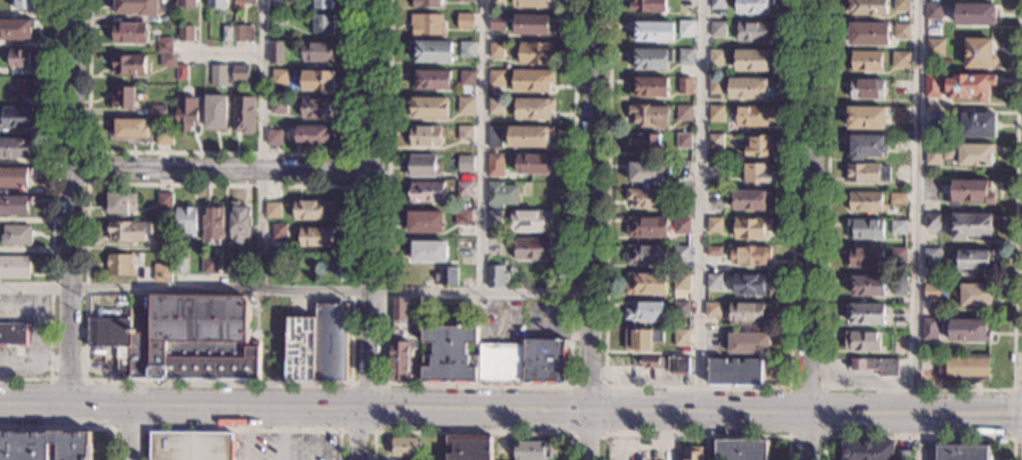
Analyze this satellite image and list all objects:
building: (245, 0)
building: (465, 0)
building: (496, 1)
building: (278, 2)
building: (425, 2)
building: (187, 3)
building: (530, 3)
building: (217, 4)
building: (323, 4)
building: (685, 4)
building: (717, 4)
building: (24, 5)
building: (901, 5)
building: (647, 6)
building: (753, 6)
building: (137, 7)
building: (867, 7)
building: (933, 11)
building: (975, 14)
building: (278, 19)
building: (464, 21)
building: (496, 22)
building: (323, 24)
building: (425, 24)
building: (531, 25)
building: (685, 28)
building: (16, 29)
building: (717, 30)
building: (901, 31)
building: (652, 32)
building: (754, 32)
building: (128, 33)
building: (184, 33)
building: (238, 33)
building: (226, 34)
building: (868, 34)
building: (164, 45)
building: (935, 47)
building: (466, 48)
building: (495, 50)
building: (432, 51)
building: (316, 52)
building: (275, 53)
building: (535, 53)
building: (978, 53)
road: (219, 54)
building: (685, 57)
building: (717, 57)
building: (21, 58)
building: (651, 59)
building: (753, 60)
building: (900, 60)
building: (167, 61)
building: (866, 61)
building: (129, 64)
building: (181, 72)
building: (239, 72)
building: (217, 75)
building: (279, 77)
building: (466, 78)
building: (496, 78)
building: (431, 80)
building: (532, 80)
building: (317, 81)
building: (717, 85)
building: (686, 86)
building: (931, 86)
building: (970, 86)
building: (649, 87)
building: (749, 88)
building: (24, 89)
building: (867, 89)
building: (123, 98)
building: (278, 105)
building: (465, 105)
building: (496, 107)
building: (316, 108)
building: (428, 108)
building: (533, 109)
building: (158, 111)
building: (215, 112)
building: (716, 112)
building: (685, 113)
building: (186, 114)
building: (243, 114)
building: (901, 114)
building: (648, 115)
building: (753, 115)
building: (16, 117)
building: (866, 118)
building: (932, 118)
building: (977, 124)
building: (130, 128)
building: (464, 133)
building: (313, 135)
building: (494, 136)
building: (164, 137)
building: (273, 137)
building: (425, 137)
building: (530, 137)
building: (716, 140)
building: (684, 141)
road: (262, 144)
building: (644, 144)
road: (480, 146)
building: (757, 146)
building: (866, 147)
building: (15, 149)
building: (933, 153)
road: (220, 154)
building: (969, 154)
road: (353, 155)
building: (464, 164)
building: (494, 165)
building: (532, 165)
building: (420, 166)
building: (715, 168)
building: (685, 170)
road: (222, 171)
building: (900, 171)
building: (646, 172)
building: (758, 173)
building: (866, 173)
building: (14, 178)
road: (85, 184)
building: (464, 189)
building: (425, 192)
building: (970, 192)
building: (500, 194)
building: (715, 196)
building: (646, 198)
building: (164, 199)
building: (897, 199)
building: (751, 200)
road: (70, 202)
building: (120, 202)
building: (866, 202)
building: (14, 205)
road: (372, 205)
road: (590, 206)
road: (702, 206)
road: (808, 206)
road: (914, 206)
building: (272, 210)
building: (313, 210)
road: (51, 215)
building: (462, 217)
building: (495, 218)
building: (530, 220)
building: (186, 221)
building: (424, 222)
building: (932, 222)
building: (239, 223)
building: (213, 225)
building: (715, 225)
building: (682, 226)
building: (972, 226)
building: (647, 227)
building: (897, 227)
building: (752, 228)
building: (865, 229)
building: (128, 231)
building: (278, 231)
building: (16, 235)
building: (314, 236)
building: (164, 243)
building: (494, 247)
building: (532, 248)
building: (428, 251)
building: (715, 251)
building: (682, 254)
building: (646, 255)
building: (897, 255)
building: (751, 256)
building: (865, 258)
building: (932, 258)
building: (297, 259)
building: (972, 259)
building: (119, 264)
building: (179, 265)
building: (236, 265)
building: (209, 266)
building: (275, 267)
building: (14, 268)
building: (510, 270)
building: (163, 273)
building: (448, 276)
building: (496, 276)
building: (681, 281)
building: (715, 281)
building: (645, 284)
building: (751, 285)
building: (899, 285)
building: (866, 286)
road: (295, 290)
building: (931, 292)
building: (976, 296)
building: (399, 308)
building: (681, 308)
building: (713, 309)
building: (646, 312)
building: (747, 312)
building: (866, 314)
building: (929, 329)
building: (110, 331)
building: (968, 331)
building: (13, 333)
building: (681, 337)
building: (641, 339)
building: (192, 340)
building: (862, 341)
building: (749, 343)
building: (319, 344)
building: (449, 354)
building: (399, 361)
building: (545, 361)
building: (499, 363)
building: (667, 365)
building: (876, 366)
building: (965, 368)
building: (737, 372)
road: (67, 381)
road: (85, 381)
road: (477, 385)
road: (586, 386)
road: (697, 386)
road: (918, 391)
road: (147, 406)
road: (180, 409)
traffic signals: (361, 410)
road: (569, 410)
road: (603, 410)
road: (583, 411)
road: (1013, 413)
road: (914, 414)
road: (71, 429)
road: (130, 430)
road: (240, 430)
road: (371, 432)
road: (470, 433)
road: (133, 434)
road: (246, 434)
road: (314, 434)
road: (354, 434)
road: (279, 435)
road: (587, 435)
road: (694, 435)
road: (590, 436)
road: (806, 436)
road: (822, 437)
road: (918, 437)
building: (44, 445)
building: (191, 446)
parking lot: (282, 447)
building: (403, 447)
building: (469, 447)
building: (531, 450)
building: (741, 450)
building: (868, 450)
building: (961, 452)
building: (693, 453)
building: (902, 455)

